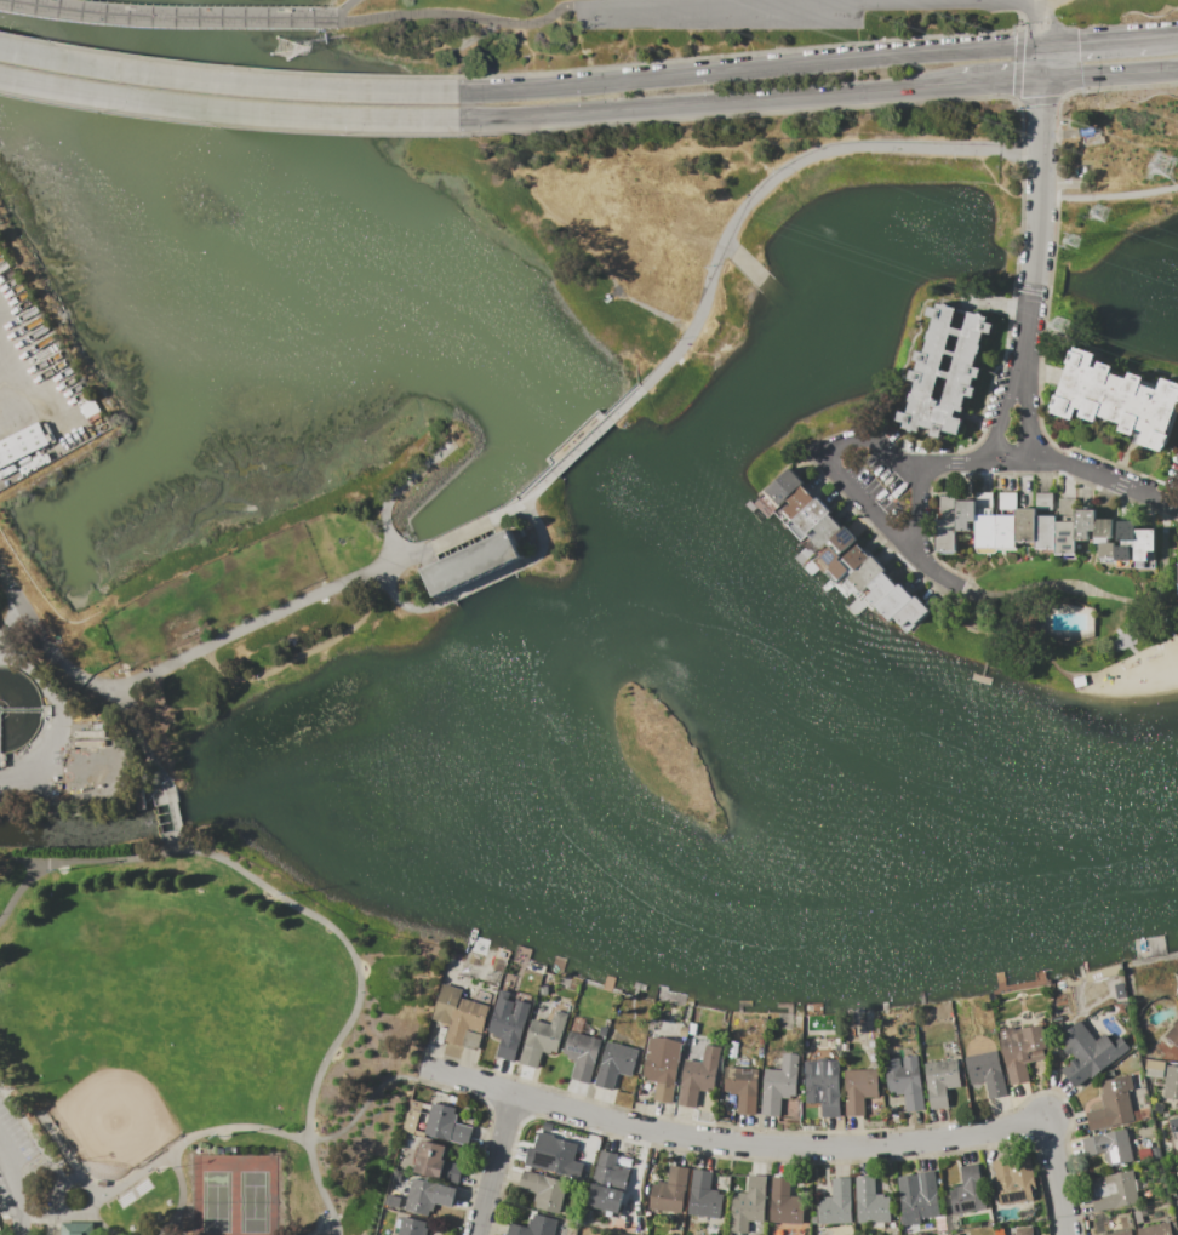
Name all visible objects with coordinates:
road: (1043, 4)
road: (734, 6)
road: (343, 7)
road: (469, 16)
road: (167, 17)
road: (1041, 18)
road: (1163, 36)
road: (1096, 41)
power tower: (281, 48)
road: (743, 53)
road: (225, 67)
road: (750, 69)
road: (1109, 72)
road: (999, 80)
road: (228, 85)
road: (1014, 87)
road: (1069, 92)
road: (709, 102)
road: (228, 109)
road: (760, 114)
road: (227, 125)
power tower: (1163, 166)
road: (768, 181)
road: (1002, 185)
road: (1109, 194)
road: (1040, 211)
power tower: (1099, 213)
power tower: (1071, 240)
road: (748, 263)
power tower: (1059, 325)
road: (1007, 327)
building: (943, 370)
road: (1039, 377)
road: (36, 398)
building: (1116, 399)
road: (1000, 413)
road: (1029, 416)
dam: (584, 439)
road: (584, 439)
building: (21, 444)
park: (441, 448)
building: (36, 456)
building: (17, 464)
road: (827, 465)
road: (1083, 475)
road: (1166, 484)
building: (782, 486)
road: (394, 492)
road: (911, 499)
building: (1007, 501)
building: (1042, 501)
building: (797, 502)
building: (983, 503)
building: (947, 507)
building: (965, 515)
building: (811, 516)
road: (482, 521)
building: (1025, 525)
building: (1083, 528)
building: (1102, 528)
road: (537, 531)
building: (824, 531)
building: (984, 531)
building: (1005, 531)
building: (1125, 531)
building: (1045, 532)
building: (945, 534)
building: (842, 538)
building: (1064, 538)
building: (1140, 543)
building: (1106, 553)
building: (829, 556)
building: (856, 556)
building: (1121, 556)
building: (479, 561)
building: (837, 570)
building: (860, 577)
road: (481, 583)
building: (879, 589)
building: (1177, 591)
road: (396, 598)
building: (892, 602)
building: (910, 613)
road: (12, 619)
road: (304, 651)
road: (175, 663)
street lamp: (191, 664)
road: (57, 715)
road: (147, 738)
road: (177, 808)
road: (182, 841)
road: (78, 861)
road: (356, 1000)
park: (164, 1001)
building: (458, 1014)
building: (507, 1025)
building: (692, 1029)
building: (1173, 1035)
building: (543, 1037)
park: (202, 1042)
building: (1022, 1050)
building: (1088, 1053)
building: (582, 1054)
building: (614, 1064)
building: (662, 1067)
building: (1154, 1068)
building: (987, 1073)
building: (698, 1076)
building: (905, 1081)
building: (940, 1081)
building: (1171, 1082)
building: (779, 1085)
building: (824, 1087)
building: (742, 1088)
building: (859, 1090)
road: (367, 1103)
building: (1113, 1105)
park: (118, 1108)
building: (1173, 1125)
building: (445, 1126)
road: (787, 1147)
building: (1109, 1147)
road: (165, 1155)
building: (553, 1156)
building: (435, 1162)
road: (494, 1163)
building: (1177, 1178)
building: (1013, 1179)
building: (616, 1182)
road: (15, 1185)
building: (544, 1190)
building: (670, 1191)
building: (1113, 1191)
building: (966, 1193)
road: (182, 1195)
park: (235, 1195)
building: (703, 1195)
building: (428, 1196)
building: (919, 1197)
building: (785, 1202)
building: (870, 1202)
building: (836, 1203)
building: (749, 1205)
road: (57, 1216)
road: (93, 1216)
building: (411, 1227)
building: (534, 1227)
building: (78, 1229)
building: (1024, 1230)
building: (1155, 1230)
road: (173, 1233)
building: (1125, 1233)

